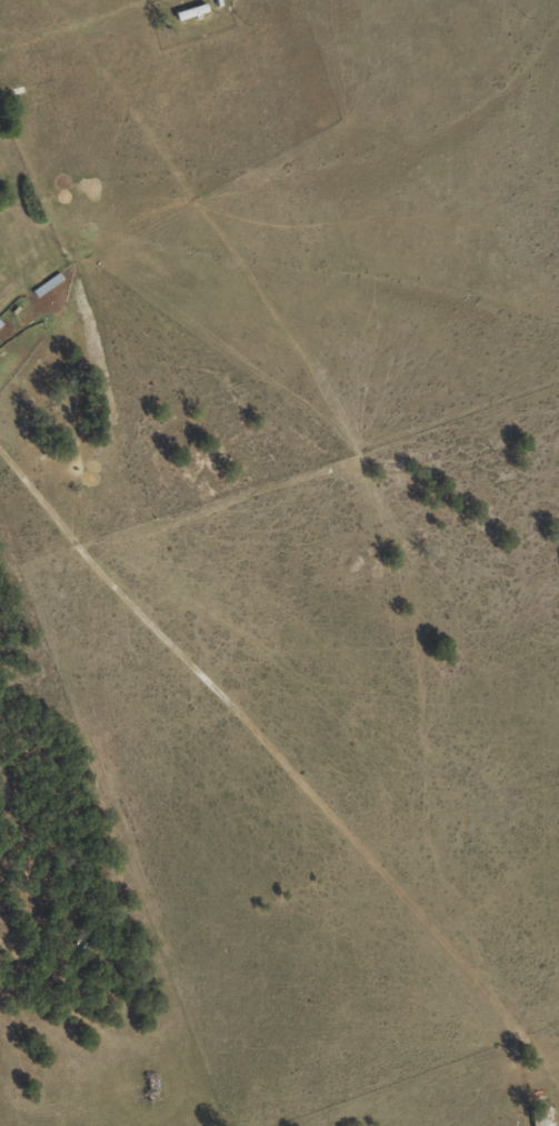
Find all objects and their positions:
building: (189, 11)
road: (462, 174)
building: (540, 1117)

